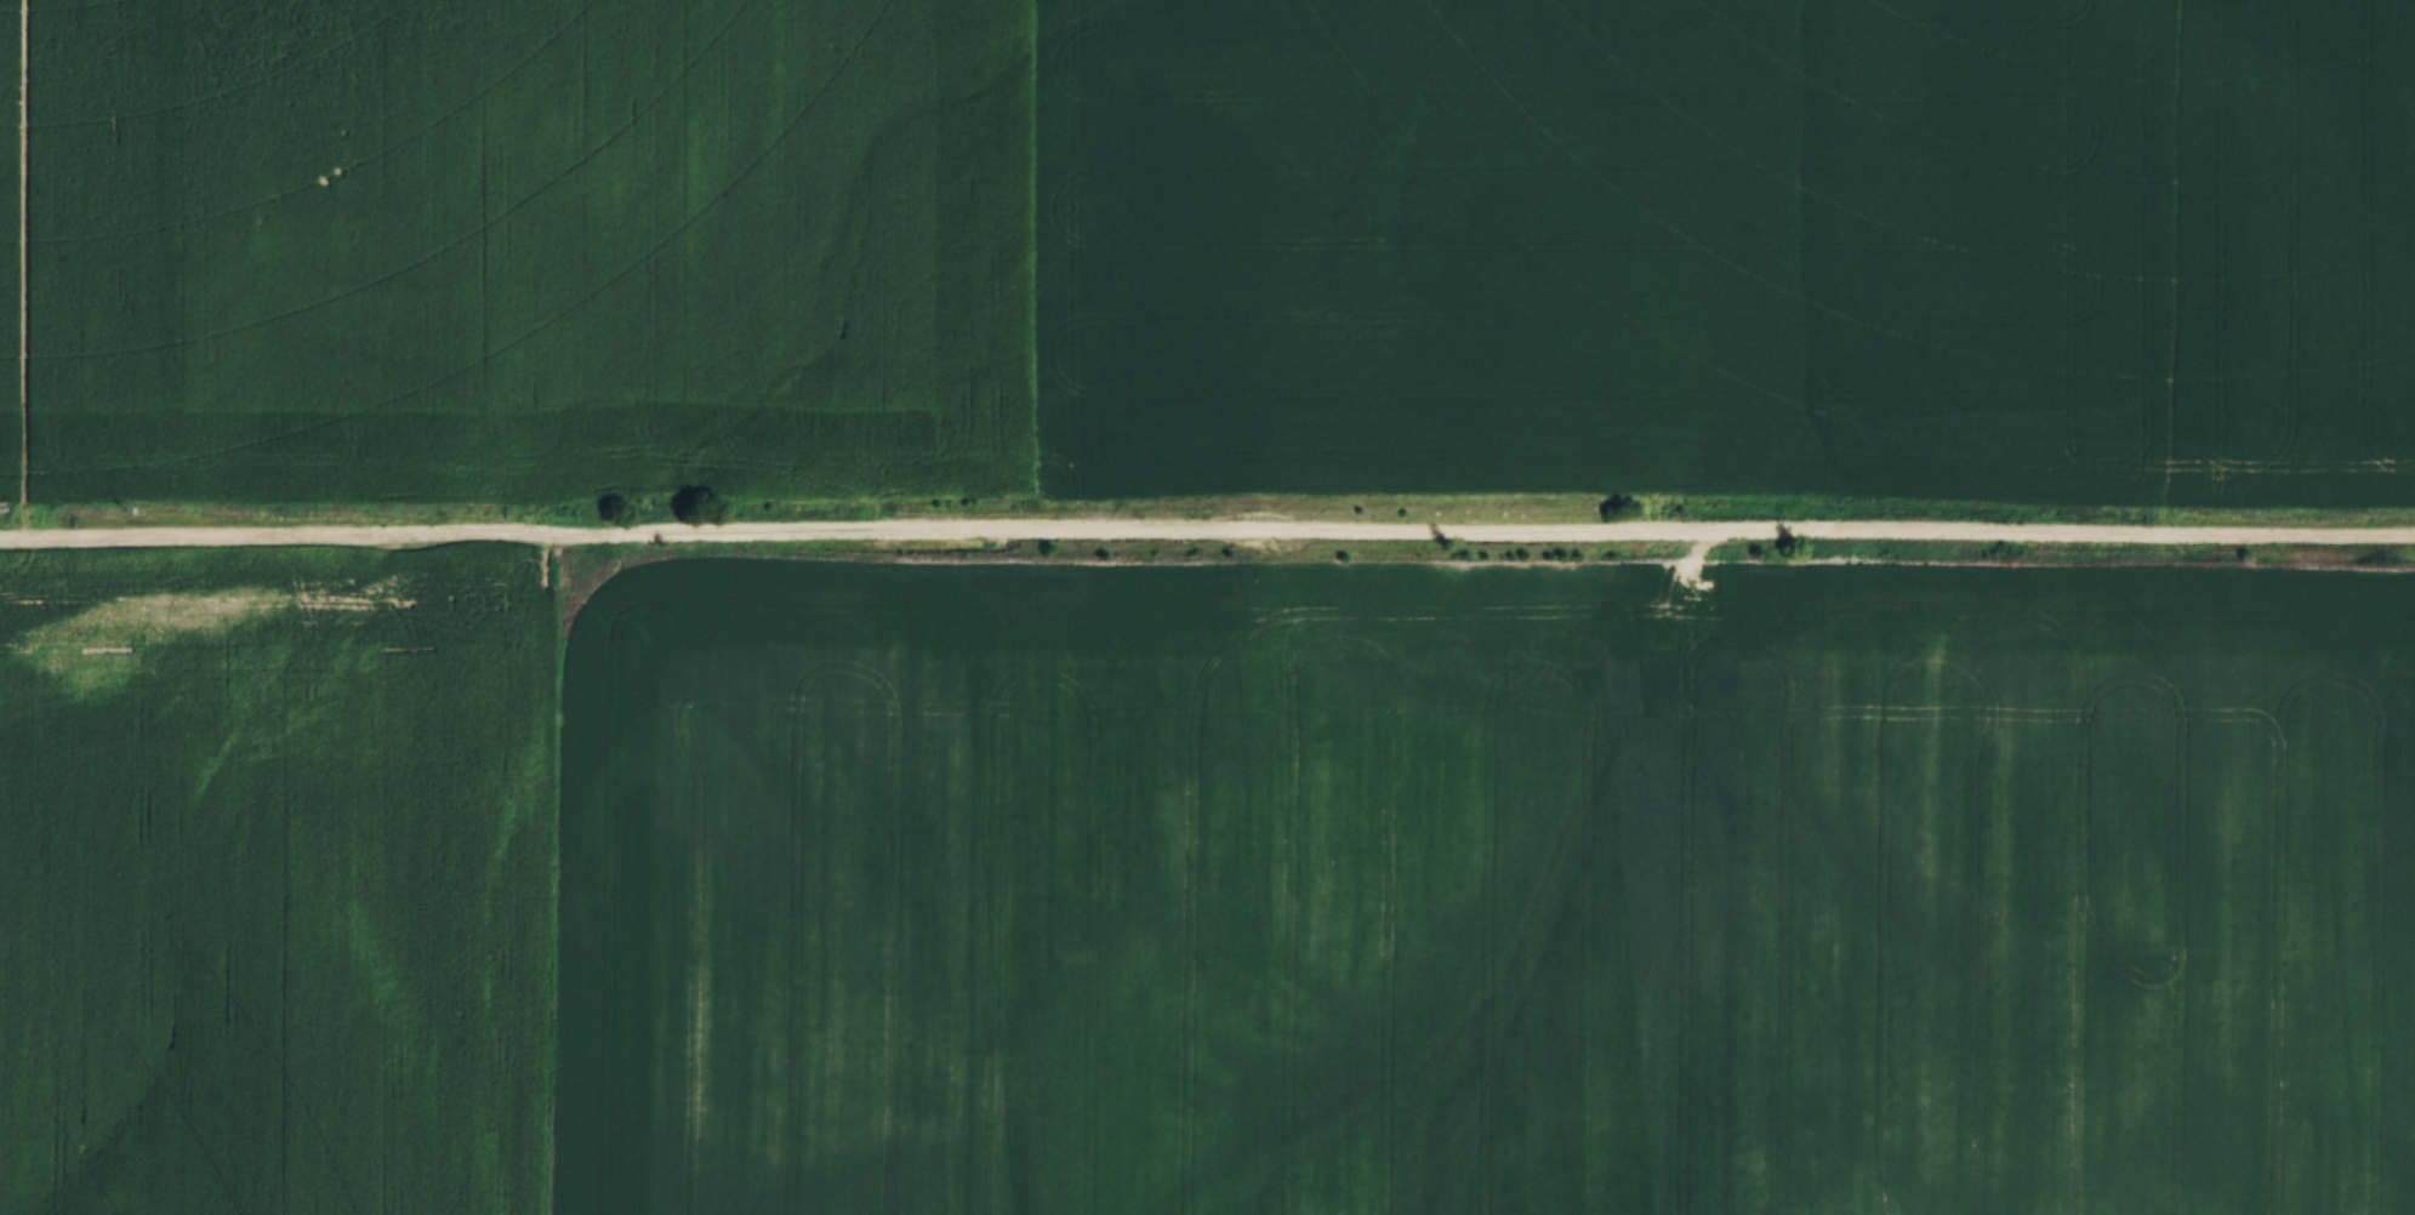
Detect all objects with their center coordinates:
road: (1493, 538)
road: (285, 540)

